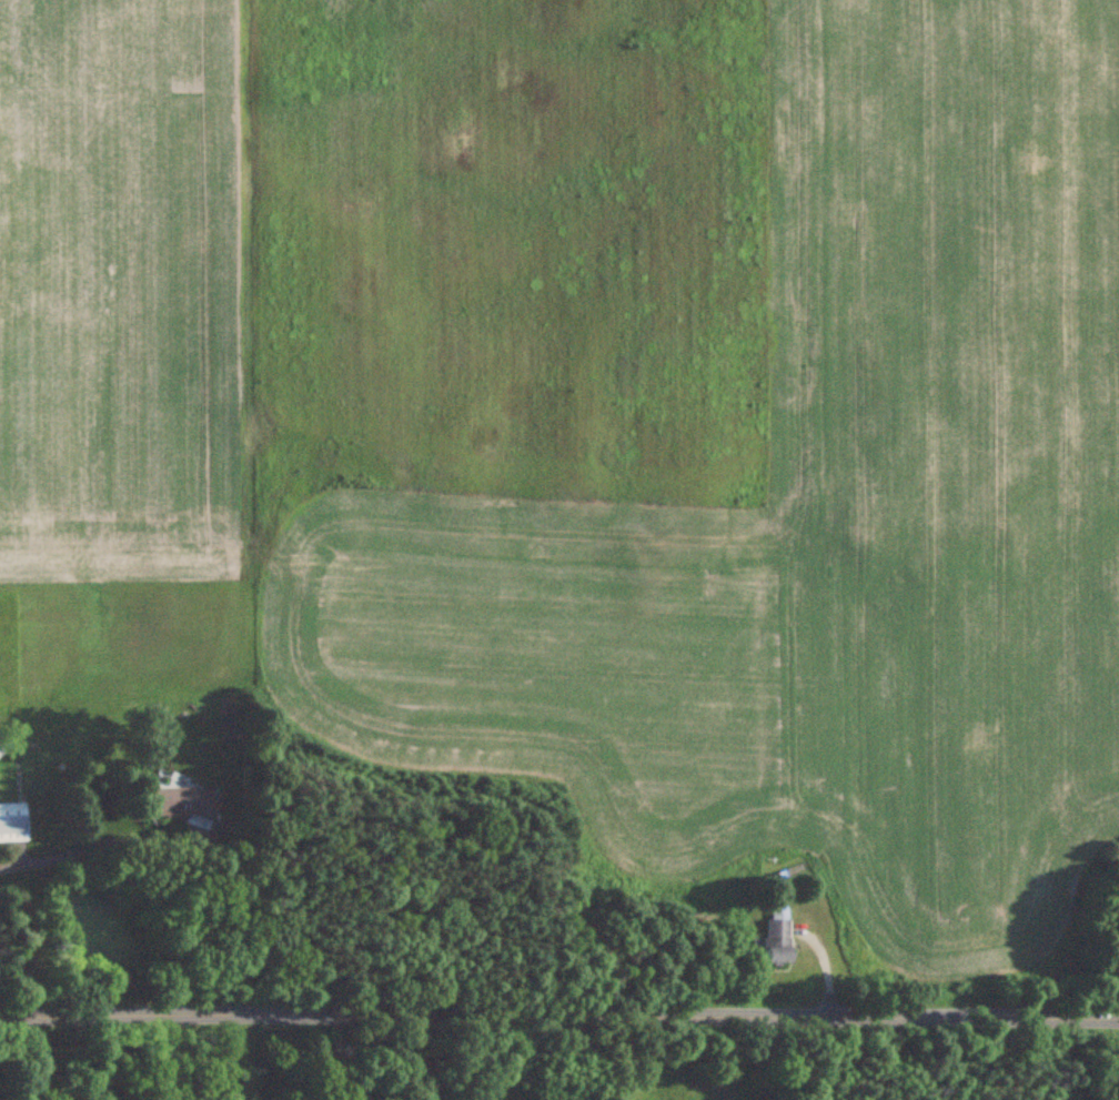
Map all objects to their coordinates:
building: (185, 803)
building: (12, 823)
road: (82, 848)
building: (777, 940)
road: (558, 1017)

